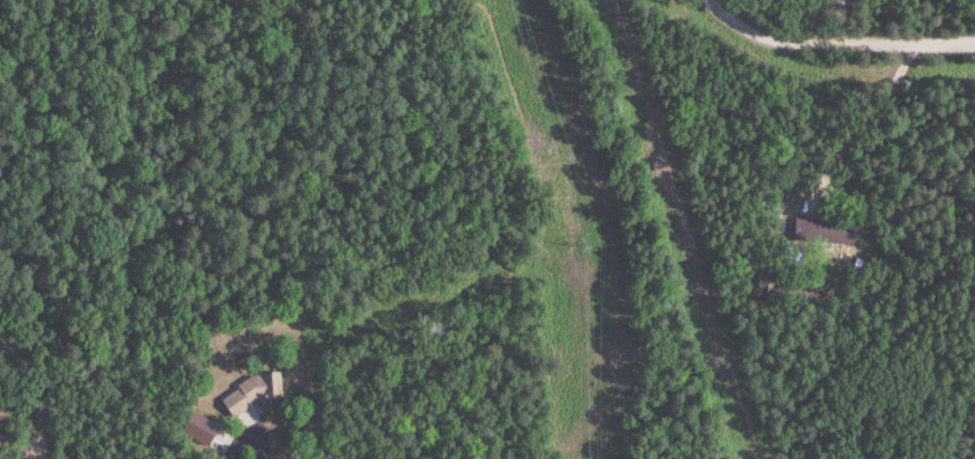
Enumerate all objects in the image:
road: (826, 22)
road: (838, 45)
road: (24, 148)
building: (821, 230)
building: (251, 392)
building: (198, 427)

